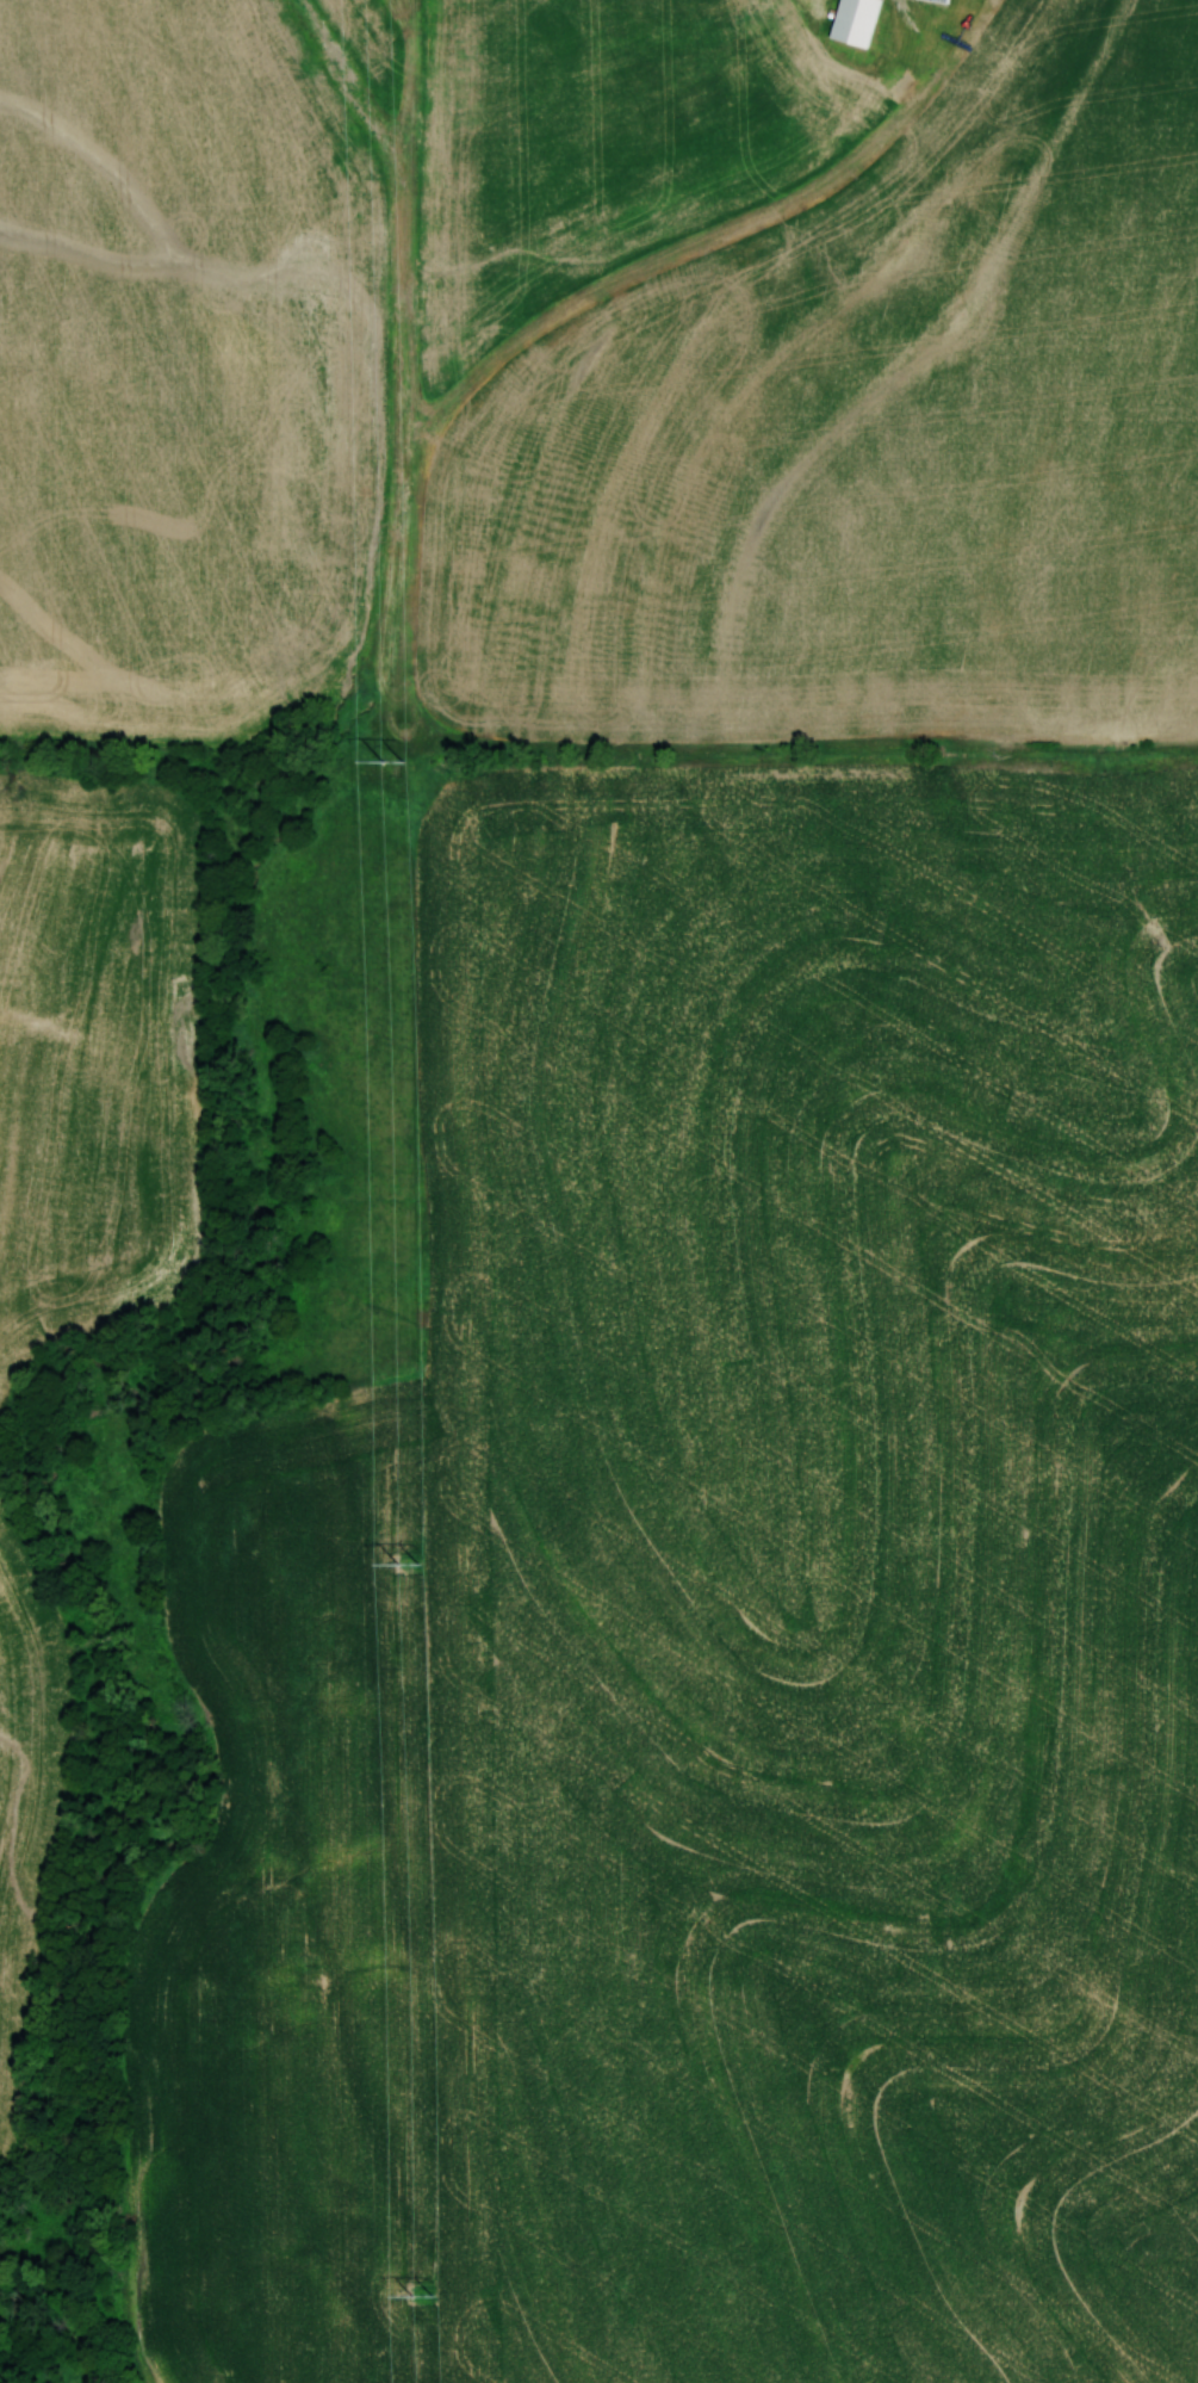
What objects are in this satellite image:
building: (861, 21)
power tower: (386, 766)
power tower: (405, 1566)
power tower: (416, 2303)

